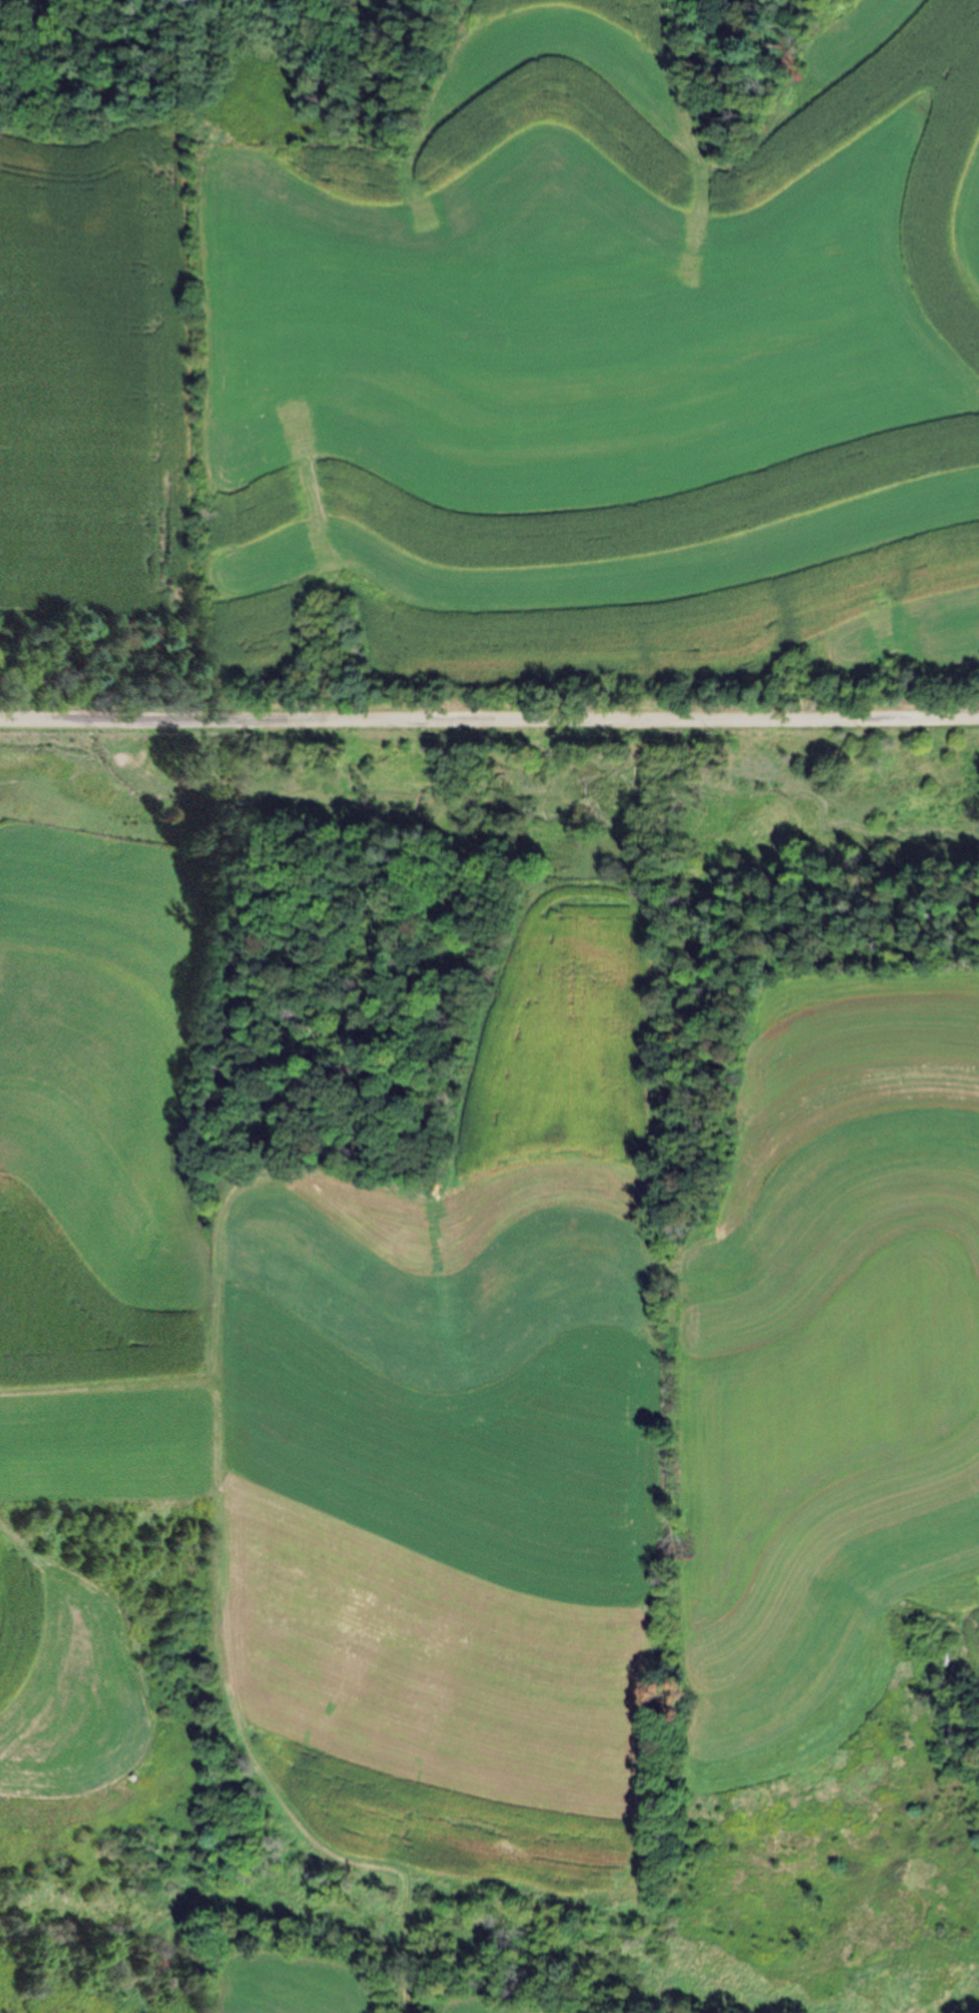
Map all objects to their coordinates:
road: (489, 719)

